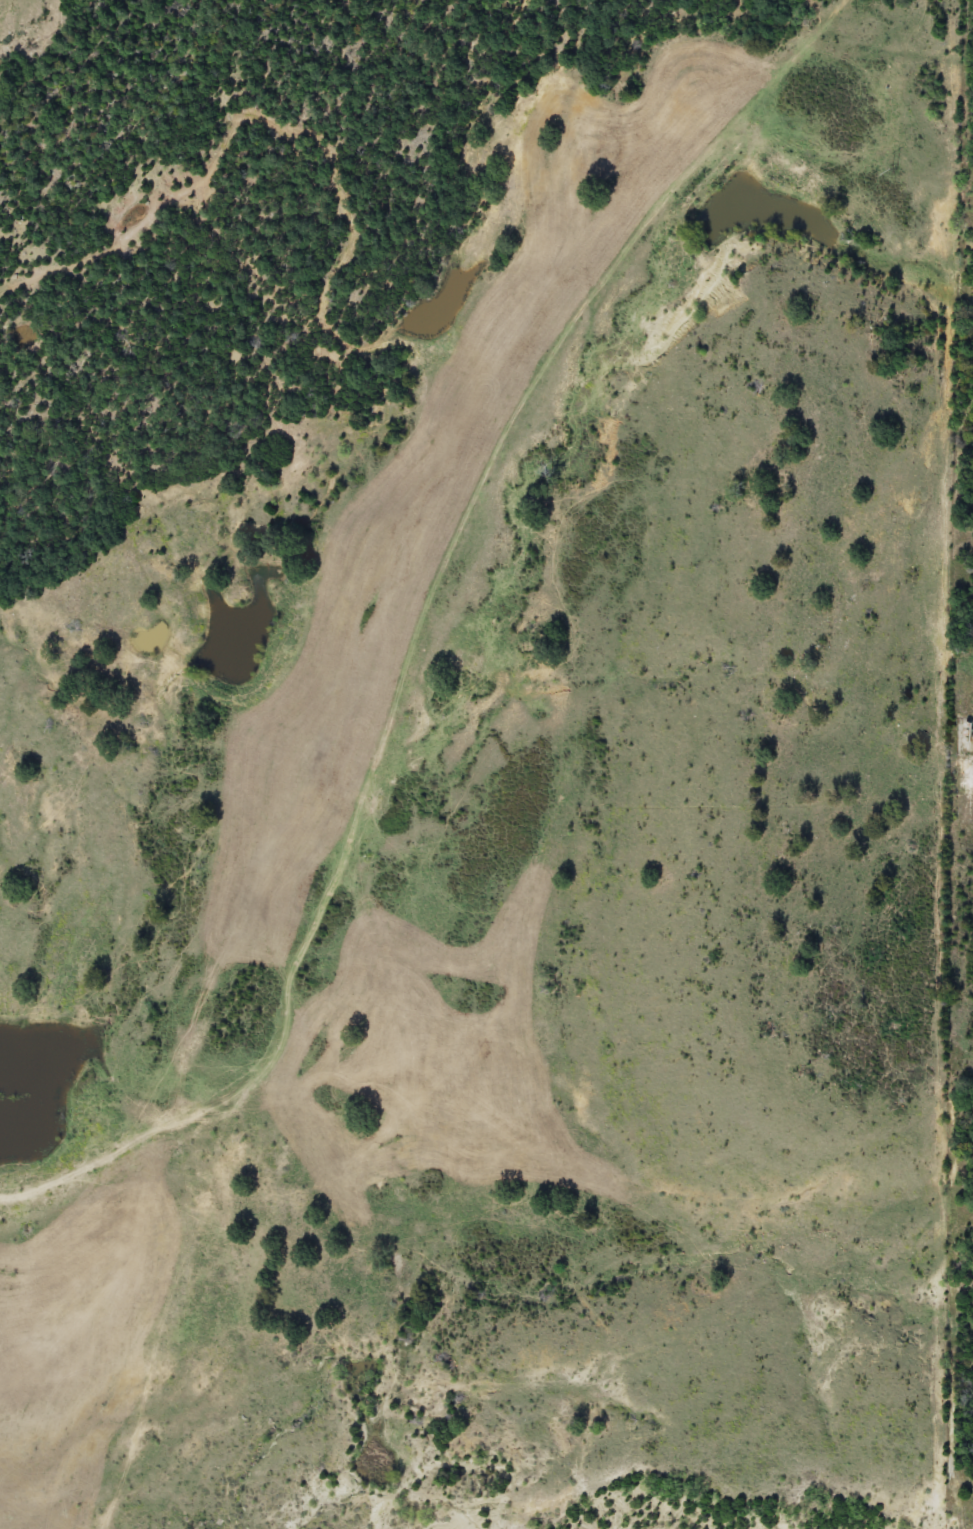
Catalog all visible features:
power tower: (903, 174)

